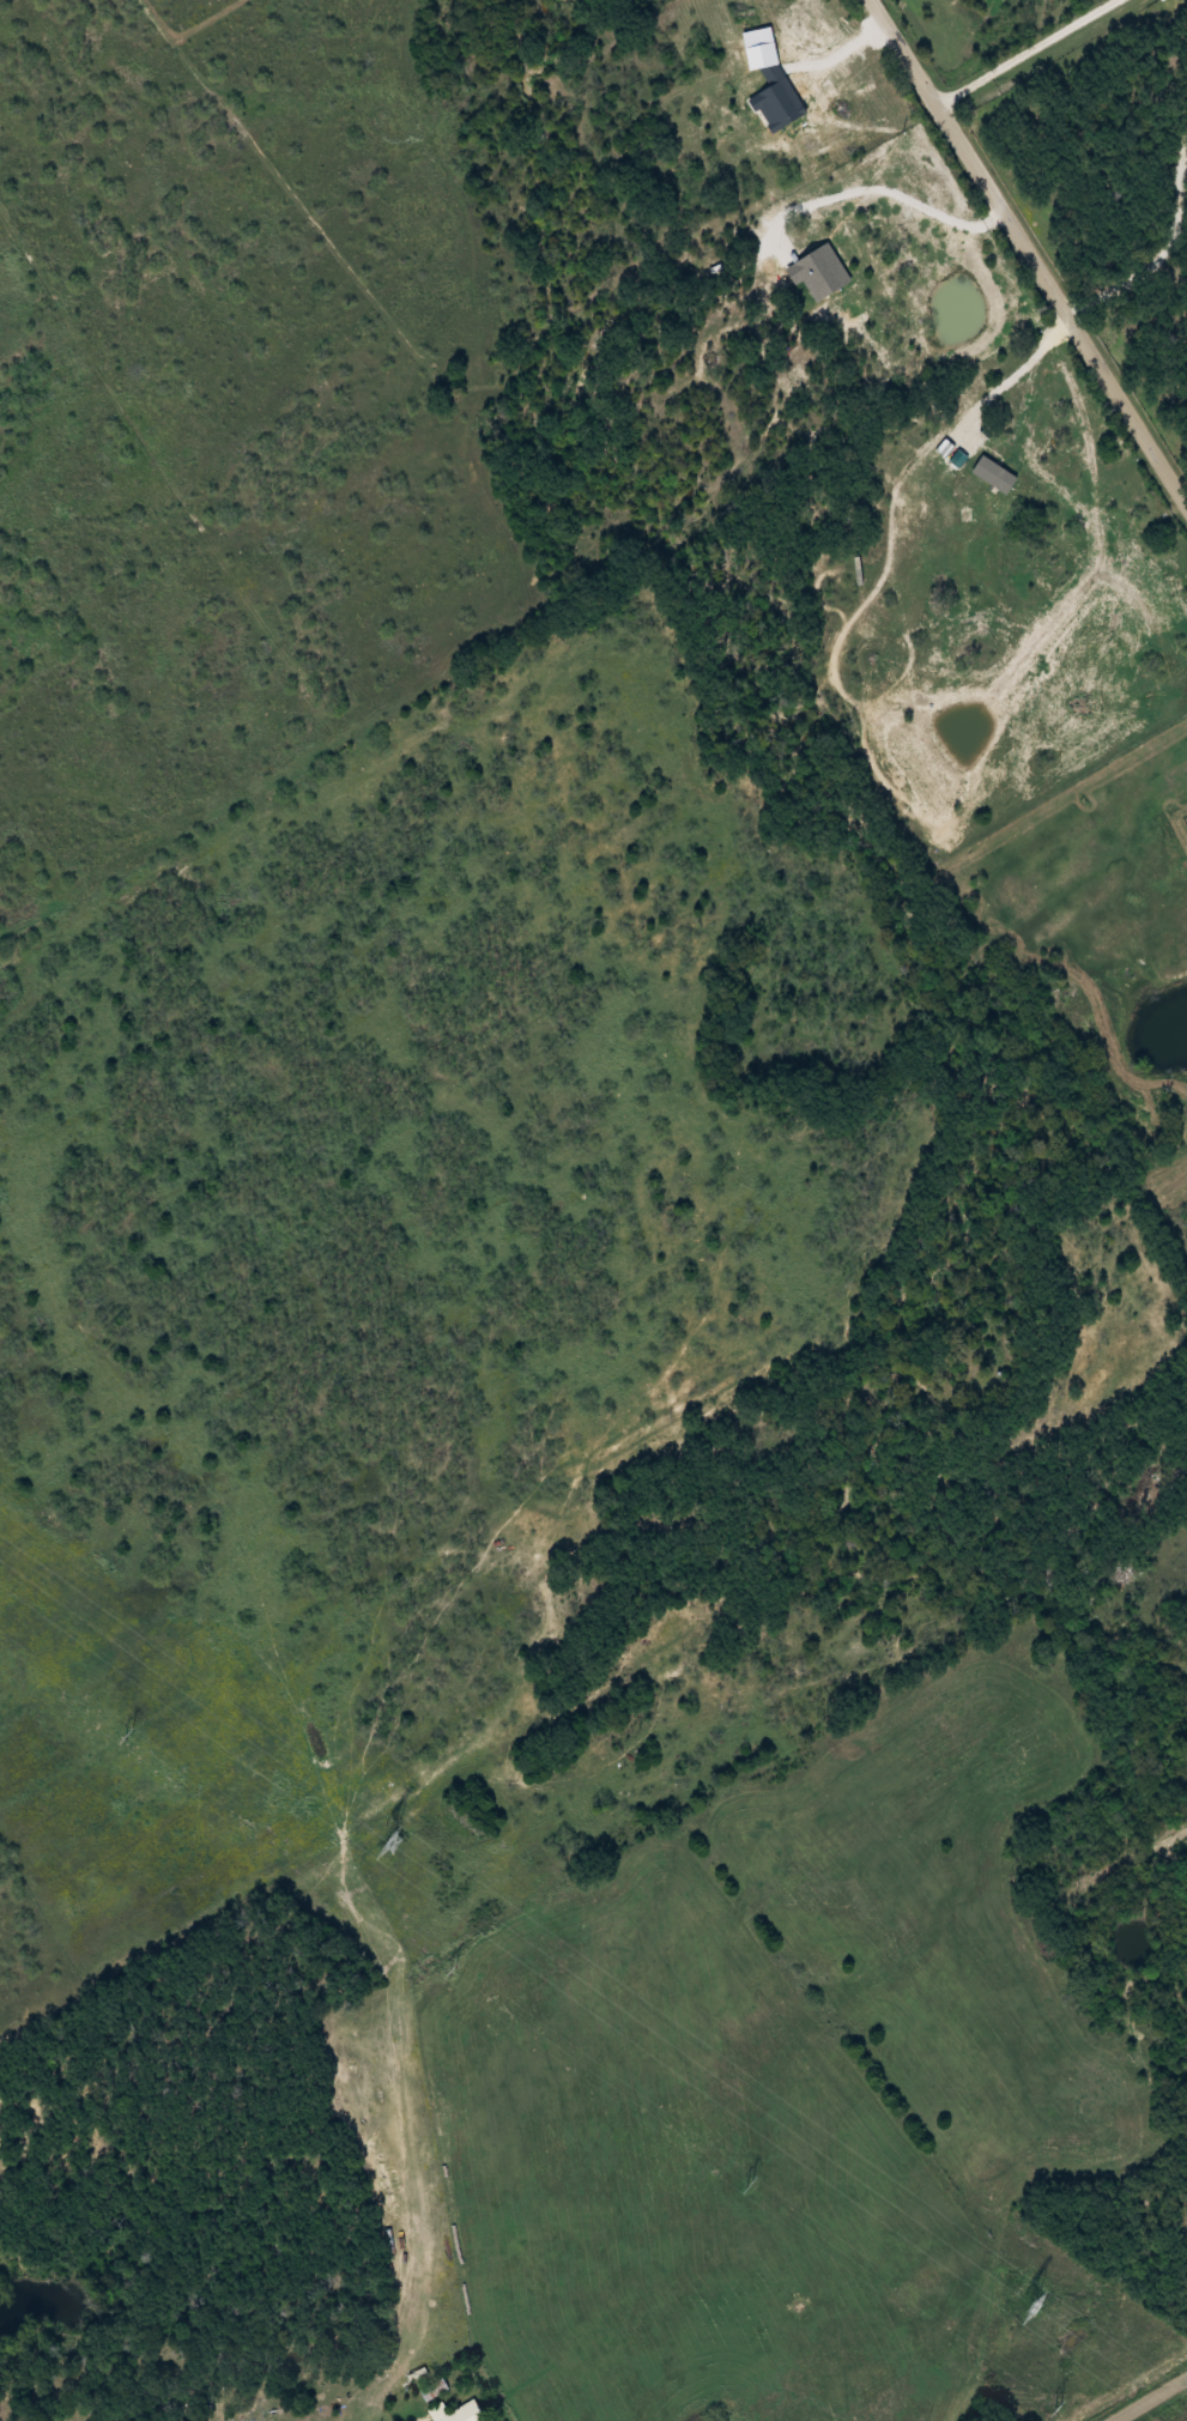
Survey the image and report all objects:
road: (1090, 126)
road: (1029, 248)
power tower: (131, 1736)
power tower: (396, 1842)
power tower: (454, 1968)
power tower: (751, 2185)
power tower: (1035, 2307)
building: (434, 2389)
road: (1152, 2399)
power tower: (1060, 2409)
building: (458, 2413)

